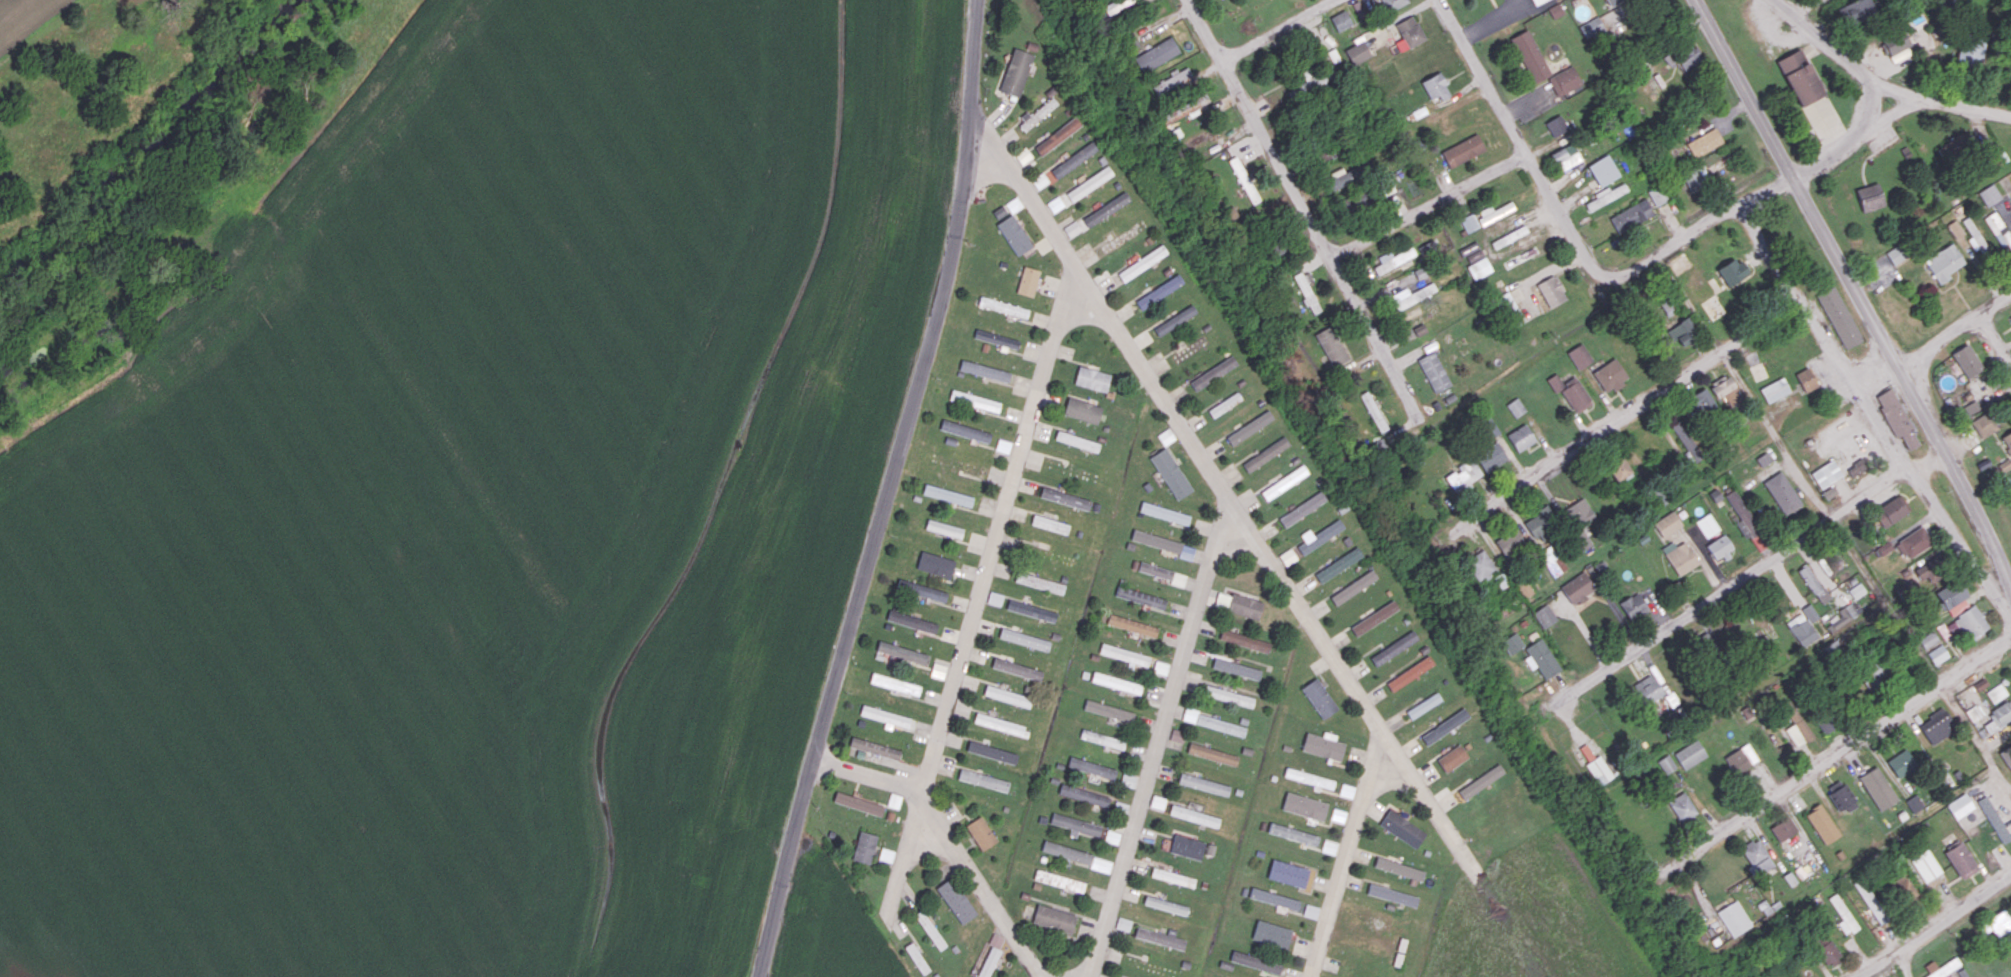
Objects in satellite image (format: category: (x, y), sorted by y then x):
building: (1537, 1)
building: (1610, 1)
building: (1392, 4)
building: (1116, 5)
road: (1804, 7)
building: (1856, 10)
crop: (39, 17)
building: (1341, 20)
building: (1591, 27)
road: (1274, 29)
building: (1409, 33)
road: (1822, 39)
building: (1895, 42)
building: (1970, 50)
building: (1358, 52)
building: (1157, 54)
building: (1899, 55)
building: (1530, 56)
building: (1683, 58)
building: (1016, 72)
building: (1804, 77)
building: (1172, 80)
building: (1314, 80)
building: (1564, 80)
building: (2010, 85)
building: (1435, 86)
road: (1744, 88)
road: (1895, 89)
building: (1189, 107)
road: (1964, 107)
road: (1869, 109)
building: (1038, 113)
road: (1887, 116)
building: (1556, 125)
building: (1058, 135)
building: (1206, 137)
parking lot: (1881, 137)
building: (1704, 142)
road: (1522, 143)
building: (1952, 148)
road: (1878, 149)
building: (1463, 150)
building: (1023, 155)
building: (1566, 156)
building: (1995, 158)
building: (1074, 159)
road: (1826, 159)
building: (1603, 170)
building: (1347, 175)
building: (1696, 176)
building: (1040, 180)
building: (1090, 183)
building: (1387, 186)
building: (1988, 194)
building: (1606, 195)
building: (1657, 195)
building: (1871, 196)
building: (1056, 204)
building: (1107, 209)
road: (1432, 209)
road: (1306, 210)
building: (1494, 212)
building: (1631, 216)
building: (1469, 222)
building: (1072, 228)
building: (1954, 228)
building: (1996, 229)
road: (1698, 230)
building: (1014, 234)
building: (1974, 236)
building: (1509, 237)
building: (1427, 247)
building: (1471, 252)
building: (1894, 254)
building: (1393, 259)
building: (1143, 262)
building: (1943, 262)
building: (1479, 268)
building: (1732, 271)
building: (1028, 281)
building: (1307, 290)
building: (1160, 291)
building: (1552, 291)
building: (1412, 295)
building: (1003, 307)
building: (2010, 316)
building: (1838, 317)
building: (1420, 329)
road: (1955, 329)
building: (1682, 331)
building: (997, 338)
road: (1994, 340)
building: (1333, 347)
building: (1191, 348)
building: (1579, 356)
building: (1966, 360)
building: (985, 370)
building: (1434, 371)
building: (1213, 372)
building: (1610, 375)
building: (1092, 378)
building: (1805, 379)
road: (1906, 379)
building: (1725, 389)
building: (1774, 389)
building: (1570, 392)
building: (975, 400)
road: (1649, 402)
building: (1702, 402)
building: (1225, 404)
building: (1515, 407)
building: (1970, 407)
road: (1871, 409)
building: (1083, 410)
building: (1373, 411)
building: (1895, 417)
building: (1983, 424)
building: (1250, 427)
building: (965, 430)
building: (1166, 436)
building: (1520, 437)
building: (1685, 439)
building: (2007, 440)
building: (1077, 441)
building: (1003, 445)
building: (1266, 454)
building: (1490, 456)
building: (1762, 459)
building: (2004, 465)
building: (1855, 466)
building: (1618, 468)
building: (1171, 473)
building: (1825, 473)
building: (1464, 474)
building: (1285, 482)
road: (887, 491)
building: (1781, 492)
building: (1828, 492)
building: (948, 495)
building: (1065, 497)
road: (1231, 497)
crop: (476, 505)
building: (1303, 509)
building: (1890, 510)
building: (1580, 512)
building: (1165, 513)
building: (1741, 515)
building: (1540, 522)
building: (1050, 524)
building: (1667, 524)
building: (1706, 525)
building: (944, 528)
building: (1319, 536)
building: (1509, 541)
building: (1913, 542)
building: (1163, 543)
building: (1719, 548)
building: (1288, 556)
building: (1680, 556)
building: (1551, 560)
building: (936, 564)
building: (1339, 564)
building: (1480, 565)
building: (1162, 572)
building: (1927, 572)
road: (1746, 573)
building: (1040, 582)
road: (979, 583)
building: (1813, 584)
building: (1578, 586)
building: (1354, 587)
building: (1523, 587)
building: (922, 590)
building: (1856, 590)
building: (1951, 593)
building: (1142, 597)
building: (995, 598)
building: (1633, 605)
building: (1245, 606)
building: (1956, 607)
building: (1032, 610)
building: (1544, 615)
building: (1841, 616)
building: (1374, 617)
building: (912, 621)
building: (1965, 624)
building: (1132, 625)
building: (1803, 625)
building: (1024, 639)
building: (1927, 639)
building: (1244, 640)
building: (1512, 643)
building: (1394, 647)
building: (902, 652)
building: (1937, 654)
building: (1125, 655)
building: (1540, 658)
building: (1161, 667)
building: (1017, 668)
building: (1236, 668)
building: (938, 670)
building: (1871, 674)
building: (1116, 682)
building: (1979, 683)
building: (895, 684)
building: (1647, 689)
building: (1995, 693)
building: (1008, 696)
building: (1229, 696)
building: (1319, 698)
building: (1424, 705)
building: (1109, 710)
building: (1972, 713)
building: (1998, 715)
building: (884, 716)
building: (1214, 722)
building: (1825, 723)
building: (1002, 724)
building: (1796, 725)
building: (1936, 725)
building: (1445, 726)
building: (1177, 734)
road: (1161, 735)
building: (1102, 738)
road: (1977, 742)
building: (1323, 745)
building: (875, 747)
building: (992, 752)
building: (1212, 754)
building: (1690, 754)
road: (1837, 756)
building: (2006, 756)
building: (1452, 758)
building: (1740, 758)
building: (1666, 763)
building: (1900, 763)
building: (1092, 767)
building: (1598, 770)
building: (1309, 778)
building: (983, 779)
building: (1128, 779)
building: (1481, 781)
building: (1203, 784)
building: (1877, 788)
building: (1346, 790)
building: (1084, 795)
building: (1840, 796)
building: (1157, 802)
building: (858, 803)
building: (1913, 803)
building: (1959, 805)
building: (1304, 806)
building: (1682, 806)
building: (1194, 815)
building: (1338, 815)
building: (1993, 819)
building: (1822, 823)
building: (1075, 825)
building: (1402, 828)
building: (1783, 828)
building: (981, 833)
building: (1293, 833)
building: (1112, 836)
road: (952, 837)
building: (864, 847)
building: (1187, 847)
building: (1329, 847)
building: (1067, 852)
building: (886, 854)
road: (1346, 854)
building: (1755, 856)
building: (1960, 860)
building: (1101, 864)
building: (1925, 865)
building: (1399, 868)
building: (1287, 873)
building: (1173, 877)
building: (1789, 878)
building: (1059, 880)
building: (1902, 889)
building: (1392, 895)
building: (1274, 898)
building: (1869, 899)
building: (956, 900)
building: (1166, 905)
building: (1768, 907)
building: (1310, 911)
building: (1843, 915)
building: (1054, 918)
building: (1734, 918)
crop: (1532, 919)
building: (1998, 922)
building: (1123, 923)
crop: (822, 925)
road: (1930, 925)
building: (930, 929)
building: (1271, 934)
building: (1159, 938)
building: (996, 939)
building: (1826, 949)
building: (917, 958)
building: (1255, 961)
building: (989, 962)
building: (1941, 967)

